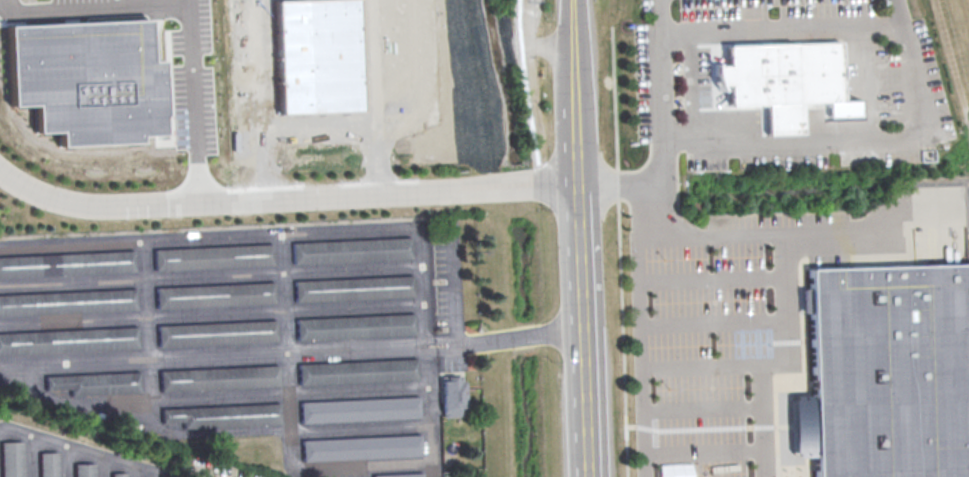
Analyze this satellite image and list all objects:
road: (519, 22)
road: (780, 30)
road: (569, 34)
road: (545, 45)
building: (316, 55)
road: (657, 76)
building: (88, 80)
building: (783, 80)
road: (867, 84)
road: (697, 91)
road: (196, 103)
road: (416, 112)
road: (573, 126)
road: (287, 138)
road: (859, 144)
road: (630, 181)
road: (284, 201)
road: (877, 231)
road: (717, 236)
building: (350, 249)
road: (619, 251)
building: (212, 256)
building: (67, 263)
road: (709, 281)
building: (352, 288)
building: (214, 294)
building: (67, 301)
road: (580, 313)
road: (453, 316)
road: (711, 323)
building: (354, 326)
building: (216, 332)
road: (556, 332)
road: (523, 337)
building: (68, 340)
road: (701, 369)
building: (356, 371)
building: (889, 372)
building: (218, 377)
building: (96, 382)
building: (451, 395)
road: (701, 408)
building: (358, 409)
building: (222, 416)
building: (360, 447)
road: (58, 448)
road: (702, 451)
building: (12, 459)
road: (585, 459)
building: (49, 464)
building: (85, 469)
building: (118, 474)
building: (398, 475)

